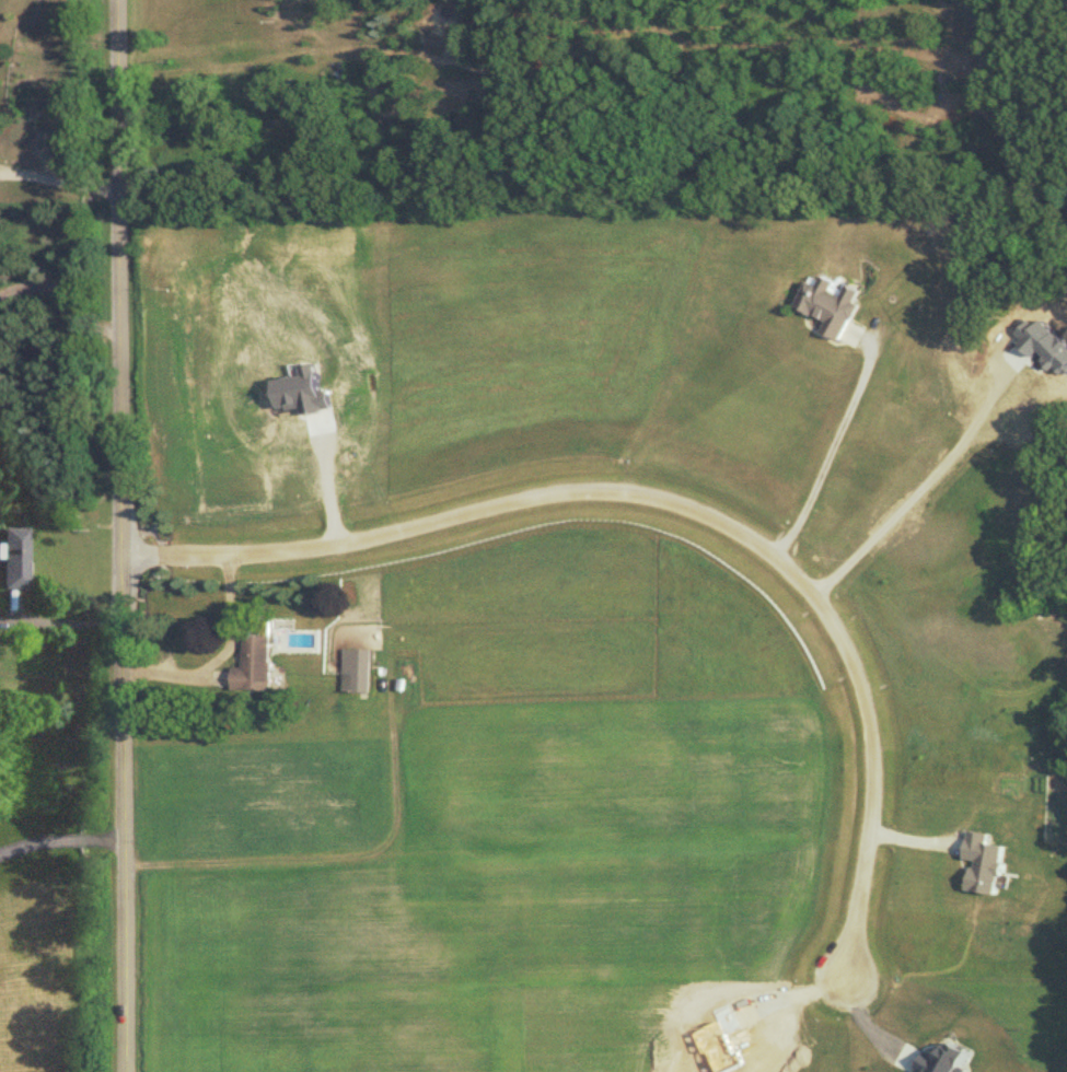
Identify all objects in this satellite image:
road: (60, 184)
road: (65, 298)
building: (826, 305)
road: (827, 454)
road: (673, 502)
road: (123, 535)
building: (11, 558)
road: (62, 622)
road: (222, 655)
building: (253, 665)
building: (356, 671)
road: (61, 841)
road: (862, 1018)

